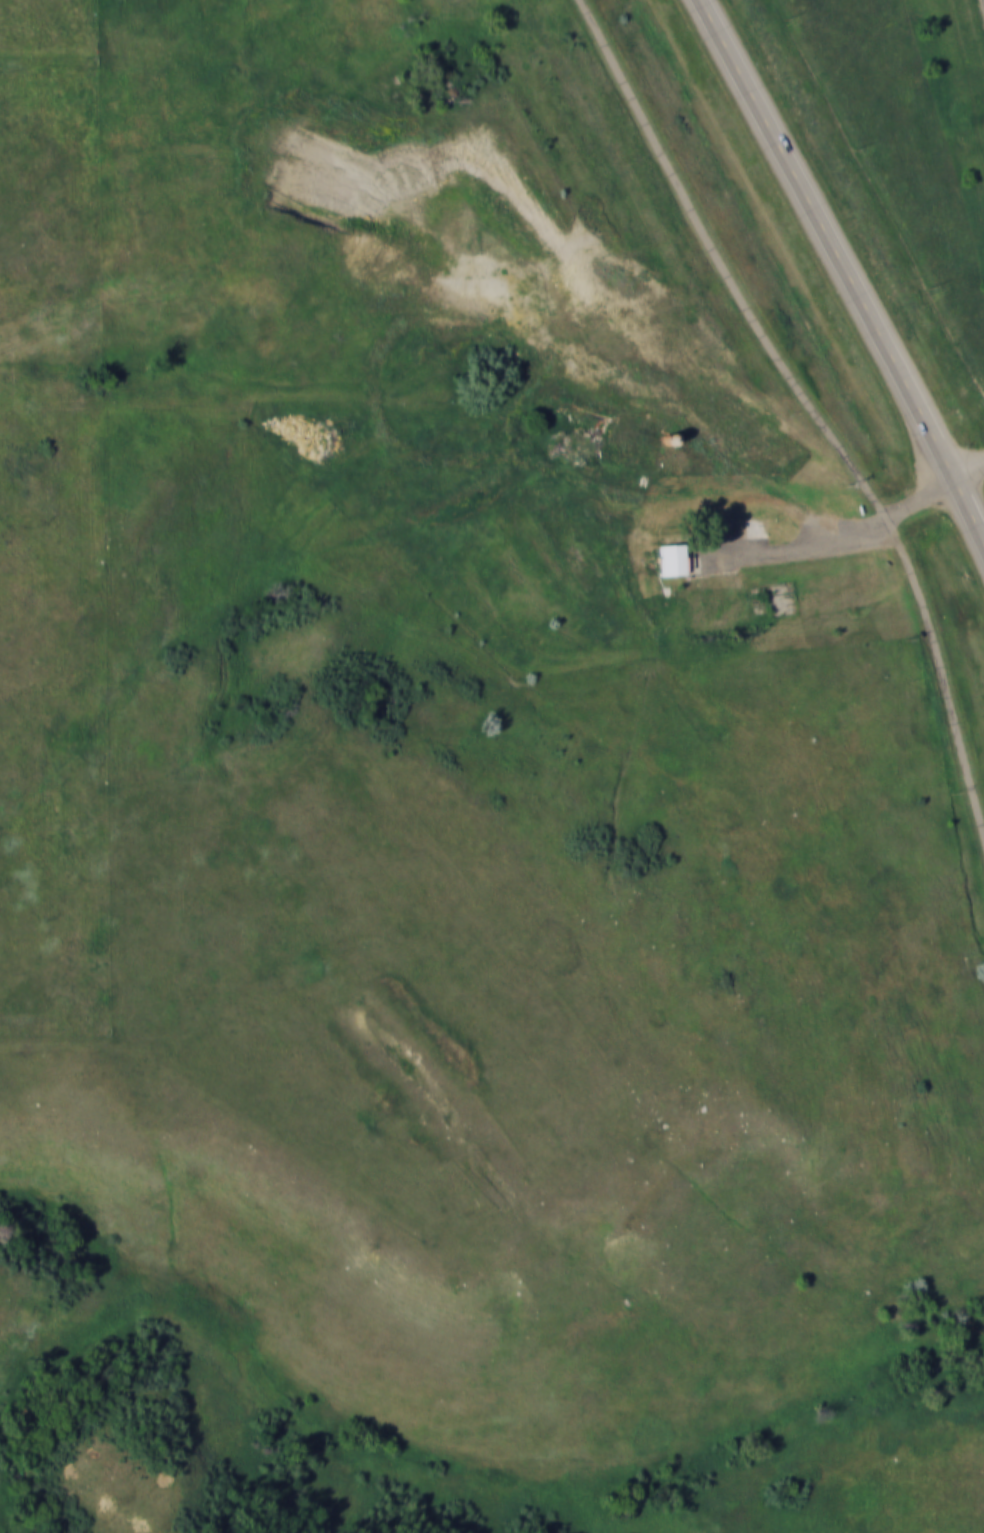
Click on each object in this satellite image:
road: (841, 271)
road: (809, 405)
road: (891, 515)
building: (673, 558)

